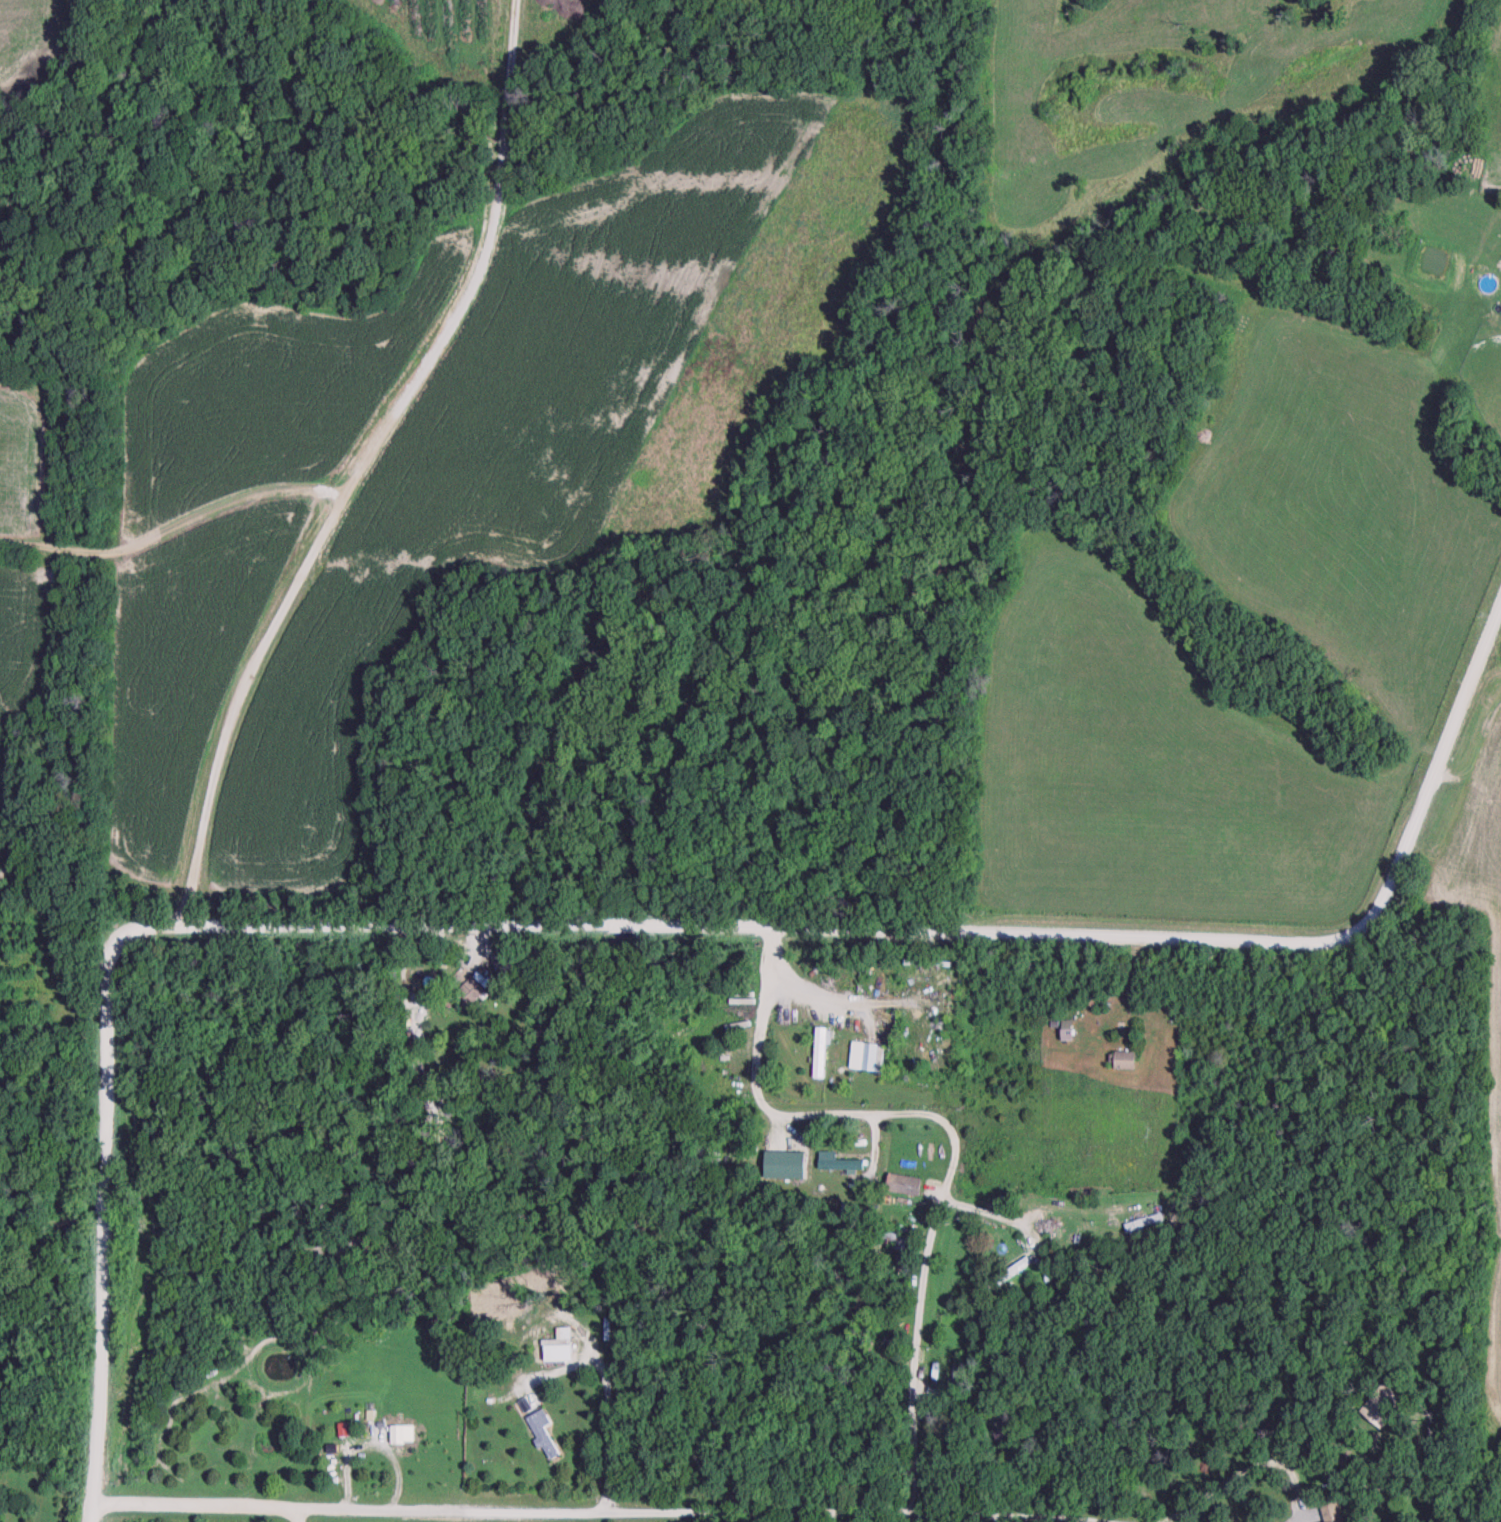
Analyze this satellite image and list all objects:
road: (627, 932)
road: (1121, 988)
building: (474, 991)
road: (837, 999)
building: (819, 1056)
building: (866, 1060)
building: (1126, 1063)
road: (952, 1138)
building: (838, 1165)
building: (904, 1187)
road: (1036, 1222)
building: (1143, 1225)
building: (904, 1246)
building: (554, 1353)
building: (956, 1377)
road: (605, 1400)
building: (1381, 1410)
building: (376, 1435)
building: (1000, 1436)
building: (397, 1438)
building: (543, 1439)
road: (604, 1513)
road: (294, 1516)
road: (1294, 1518)

